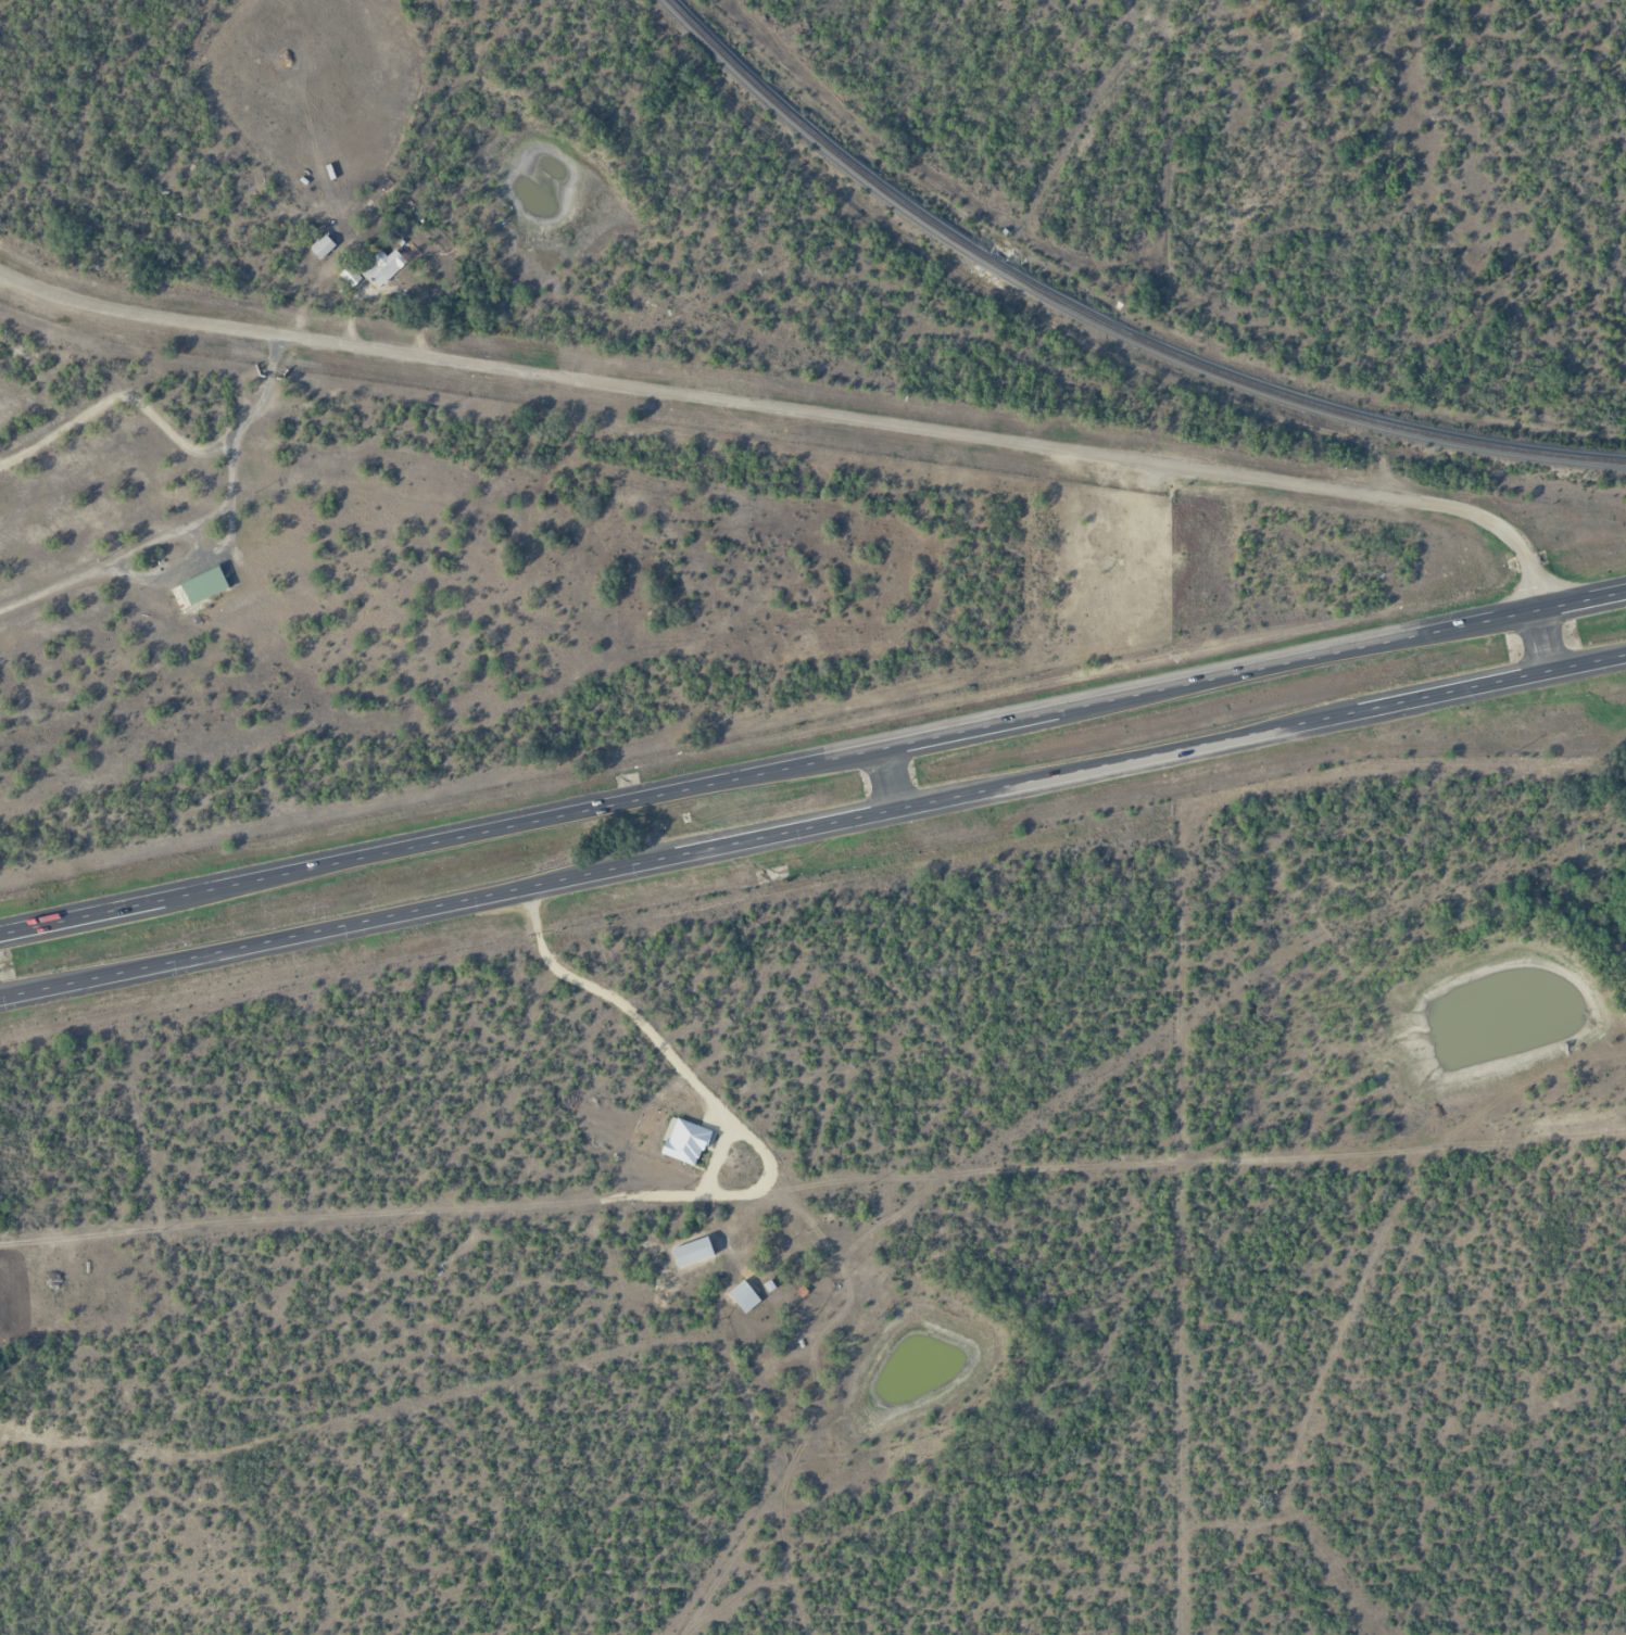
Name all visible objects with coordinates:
building: (324, 246)
building: (377, 269)
railway: (1104, 321)
road: (828, 415)
building: (201, 587)
road: (812, 761)
road: (894, 776)
road: (812, 825)
building: (695, 1252)
building: (745, 1295)

